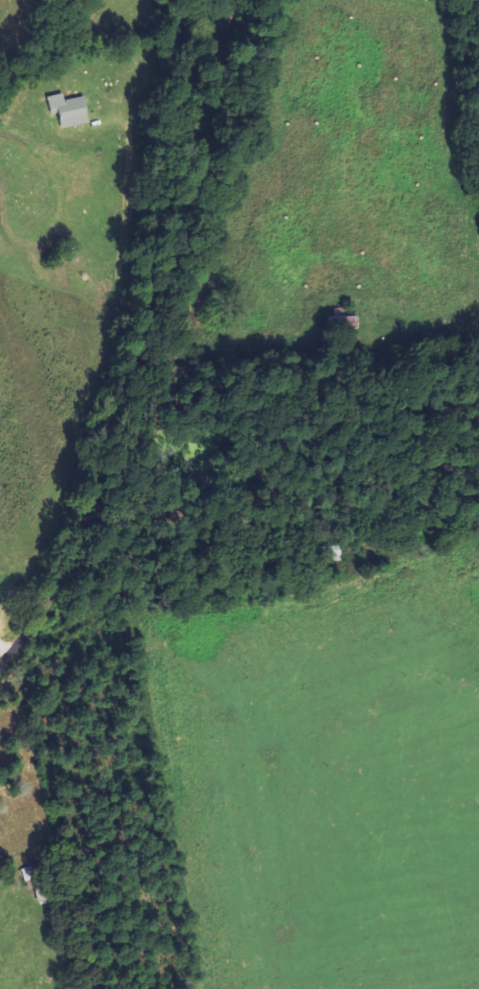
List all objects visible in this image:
building: (72, 110)
road: (133, 341)

